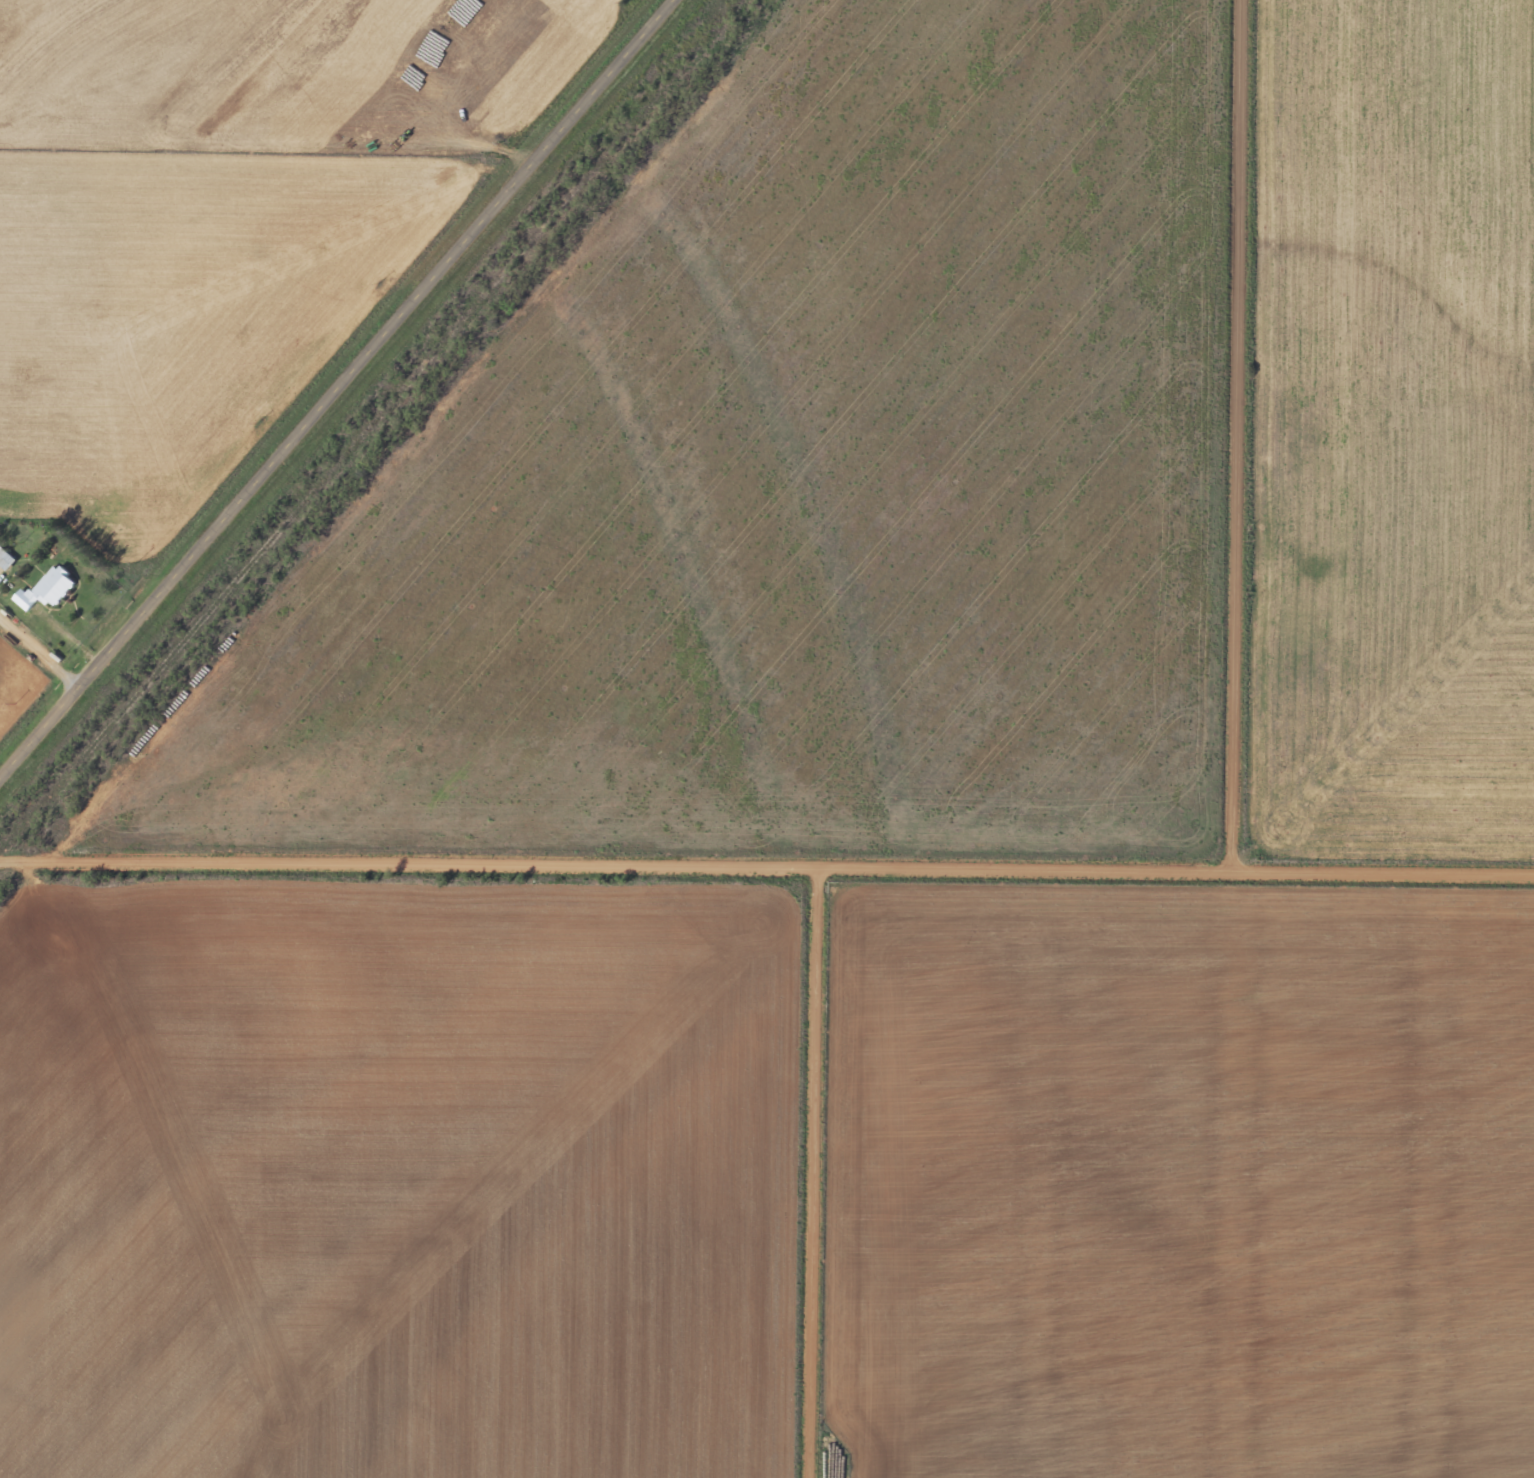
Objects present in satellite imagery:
road: (342, 395)
railway: (367, 423)
road: (1242, 434)
building: (49, 591)
road: (766, 864)
road: (819, 1171)

